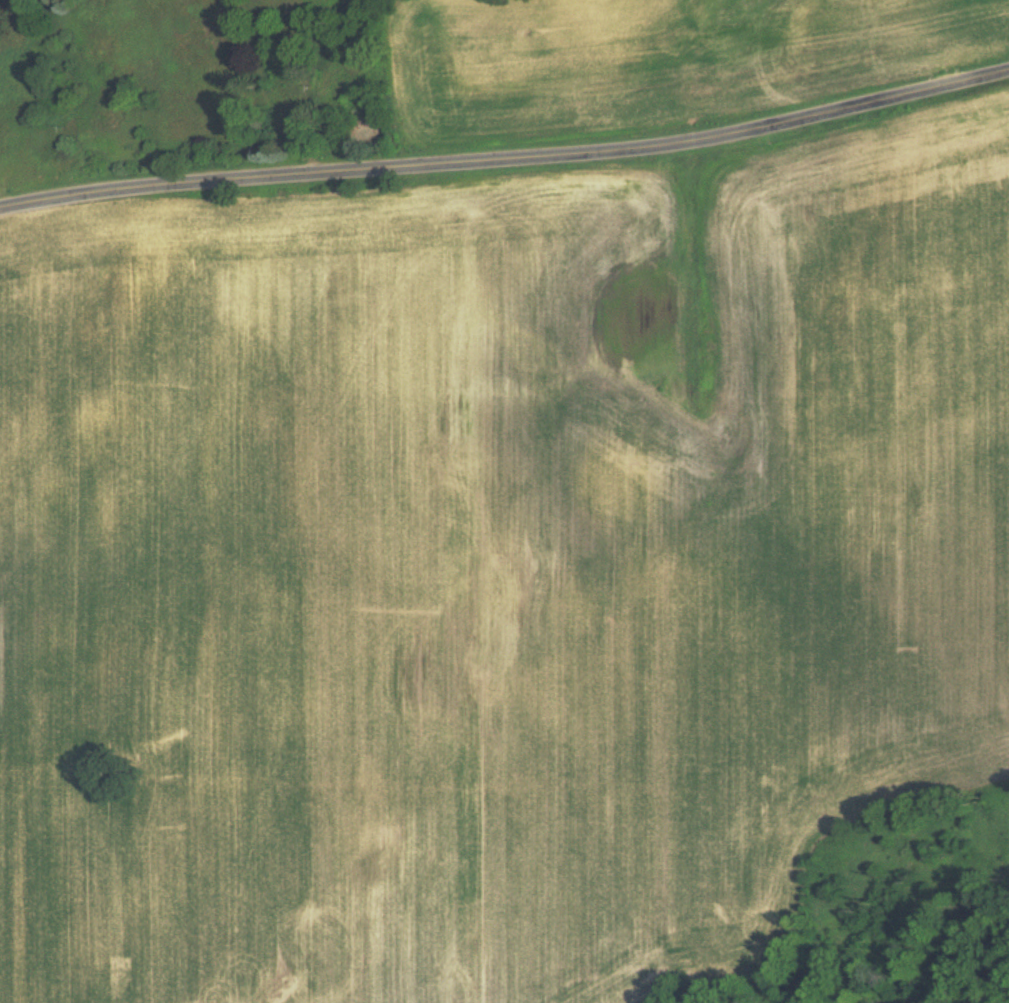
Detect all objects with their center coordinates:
building: (282, 59)
road: (507, 158)

